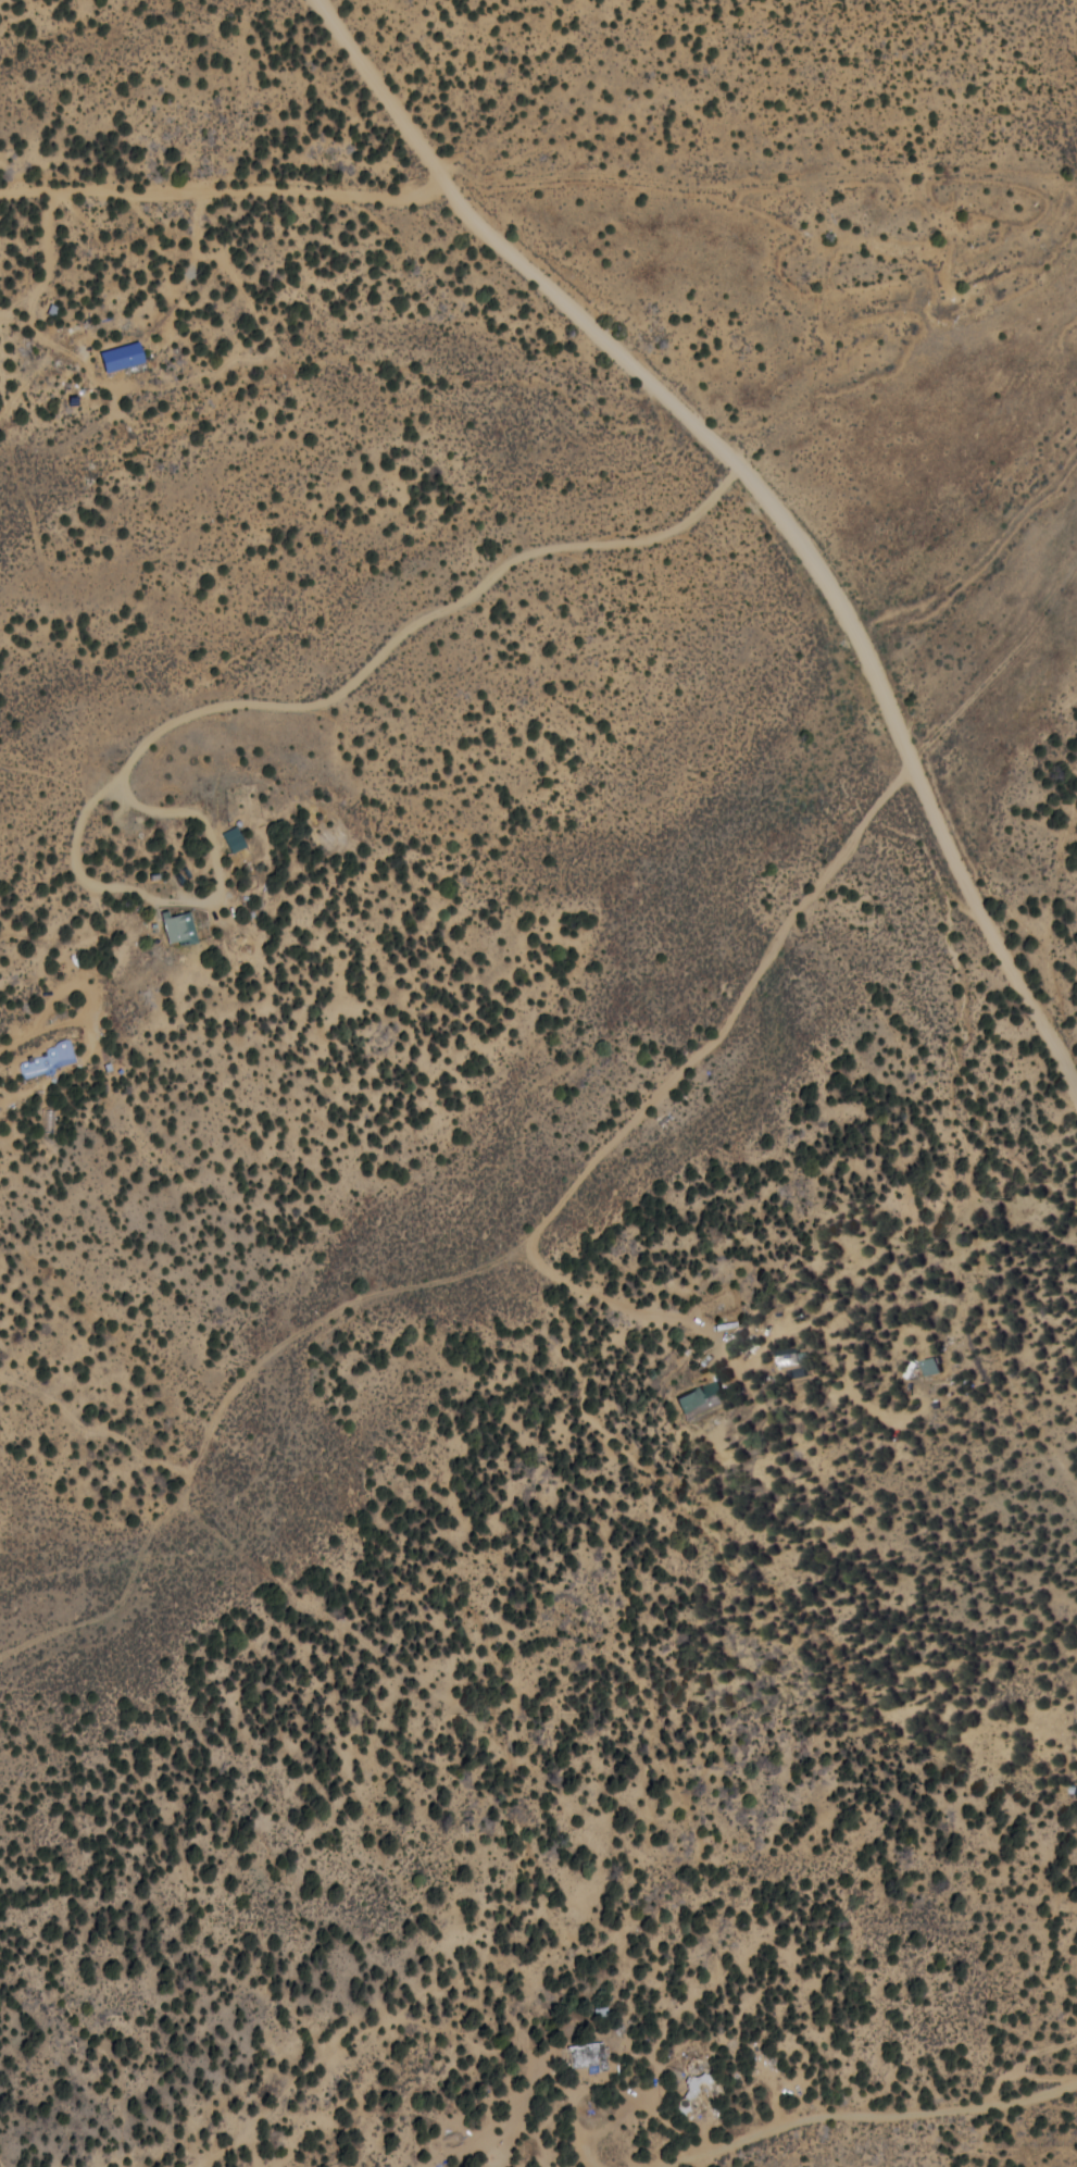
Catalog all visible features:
road: (578, 317)
building: (122, 356)
building: (234, 838)
road: (956, 864)
building: (179, 927)
building: (48, 1059)
road: (498, 1259)
building: (935, 1365)
building: (701, 1398)
building: (587, 2054)

